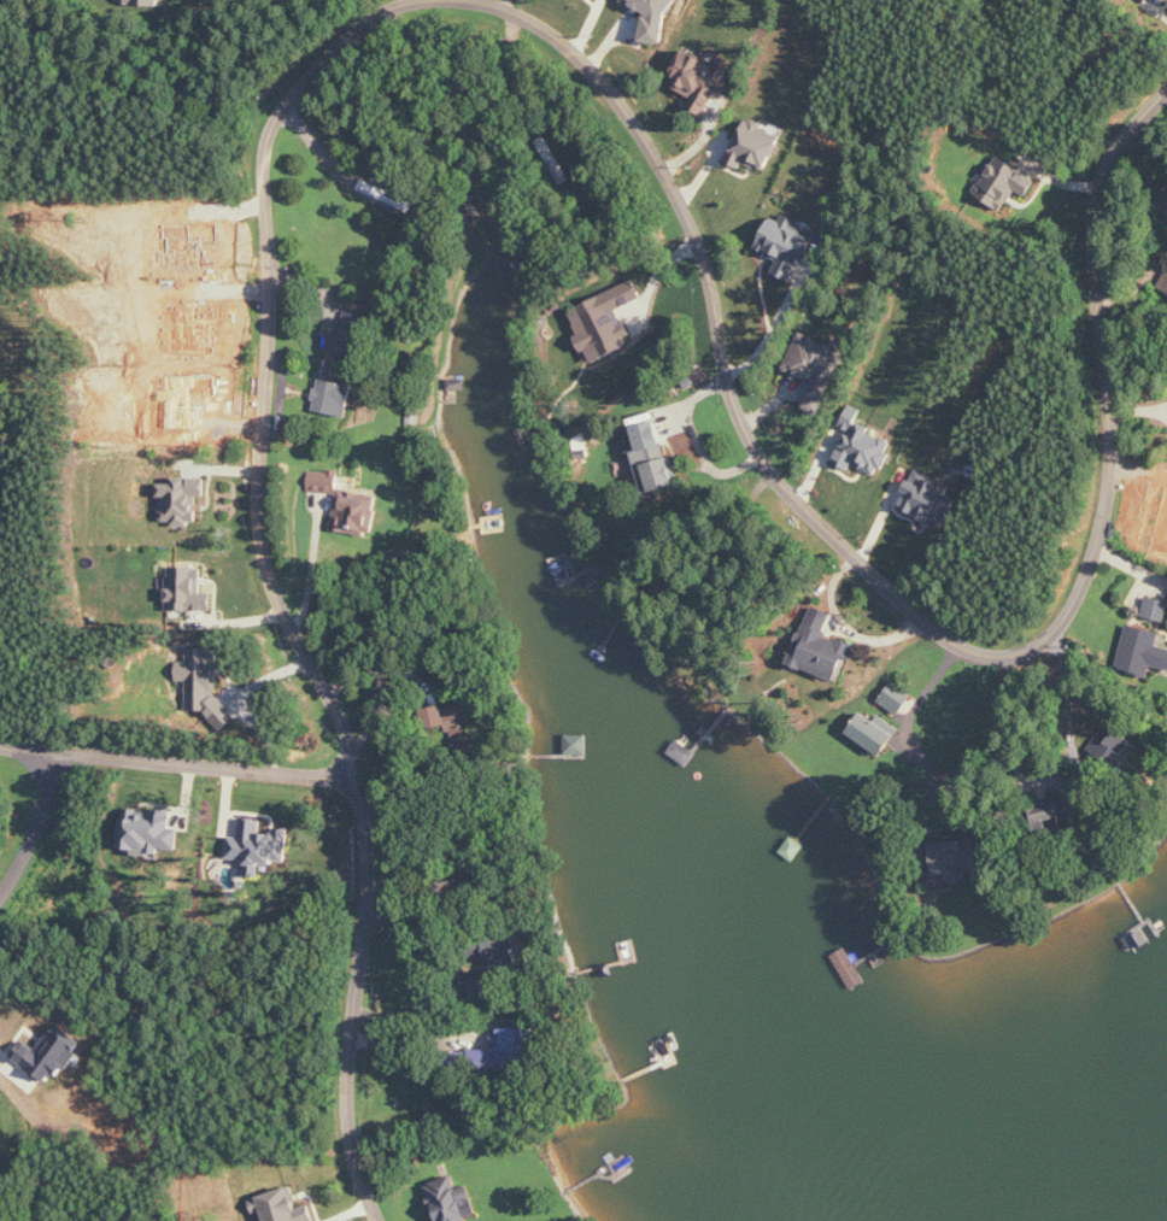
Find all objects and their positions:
building: (1159, 0)
road: (543, 40)
building: (699, 81)
building: (753, 146)
building: (1004, 182)
building: (1161, 189)
building: (784, 243)
building: (605, 321)
road: (772, 329)
building: (351, 334)
building: (814, 368)
building: (334, 398)
road: (1137, 407)
building: (862, 445)
building: (653, 456)
building: (927, 499)
building: (182, 500)
building: (346, 503)
building: (1159, 552)
building: (188, 589)
building: (1156, 609)
building: (822, 647)
building: (1145, 652)
building: (204, 685)
road: (1068, 687)
road: (240, 695)
building: (896, 697)
building: (436, 716)
road: (993, 726)
building: (874, 732)
building: (1119, 747)
road: (178, 761)
building: (1048, 817)
road: (34, 824)
building: (149, 830)
building: (259, 846)
building: (956, 859)
building: (502, 951)
building: (487, 988)
road: (424, 1035)
building: (505, 1050)
building: (48, 1057)
building: (451, 1201)

